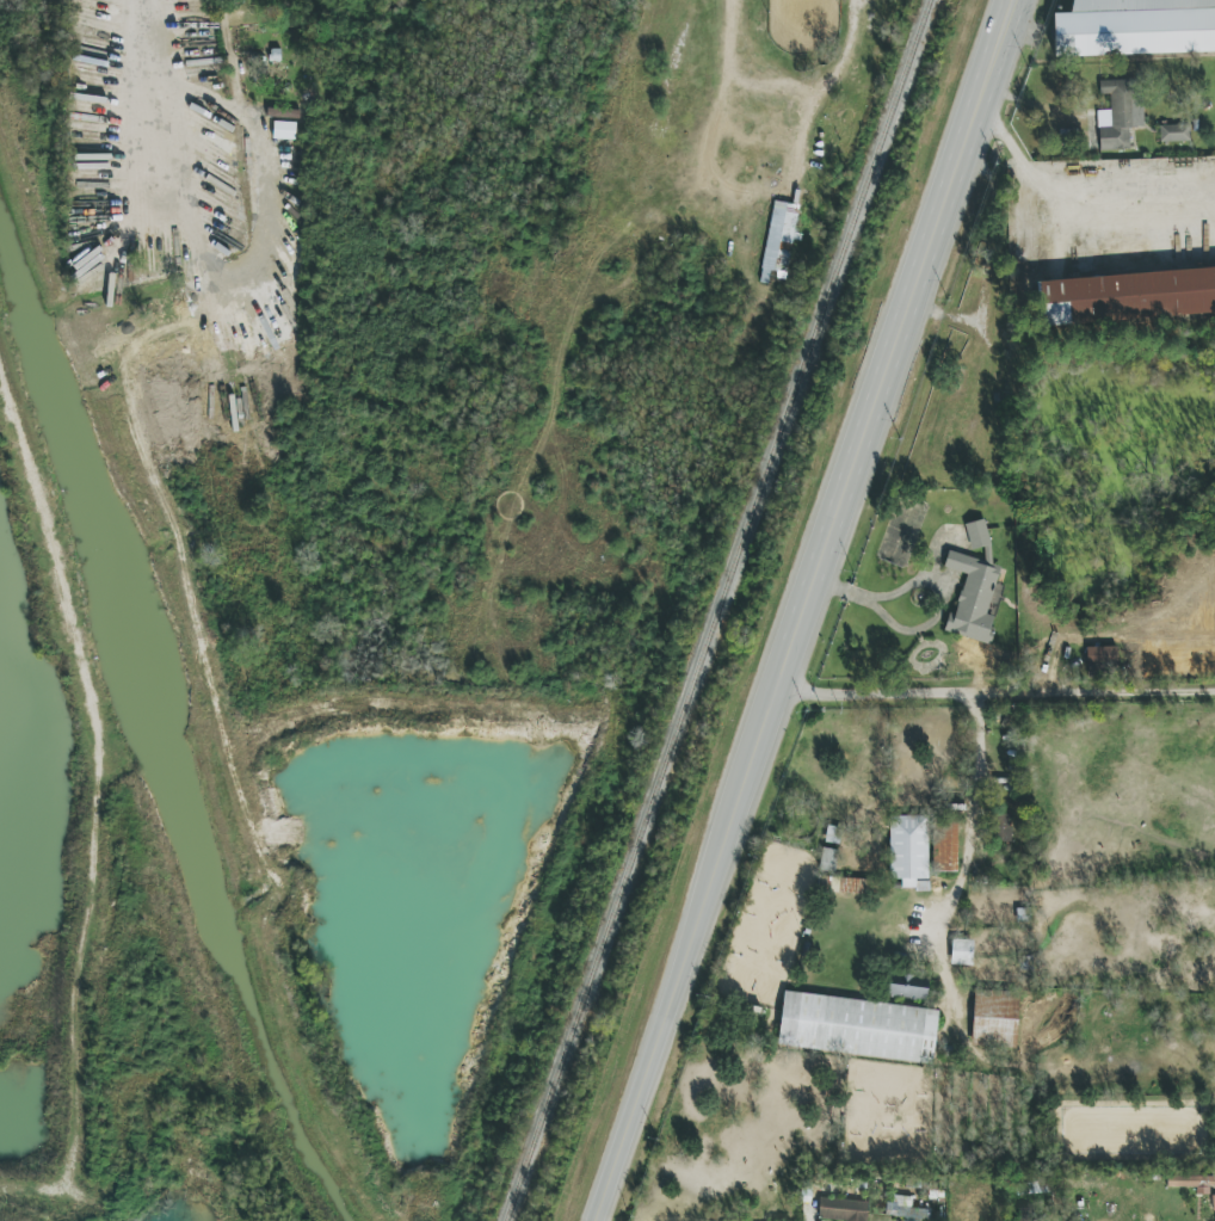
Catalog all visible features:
building: (1136, 26)
road: (732, 31)
road: (816, 91)
road: (156, 106)
building: (1121, 112)
building: (284, 130)
building: (1176, 132)
road: (1083, 196)
building: (781, 239)
building: (1129, 295)
road: (937, 586)
building: (974, 587)
railway: (717, 610)
road: (814, 611)
building: (1102, 655)
road: (995, 696)
road: (979, 772)
building: (1003, 827)
building: (945, 845)
building: (908, 849)
building: (828, 859)
building: (852, 887)
building: (962, 951)
building: (995, 1018)
building: (858, 1028)
building: (1190, 1180)
building: (1029, 1188)
building: (903, 1208)
building: (843, 1209)

